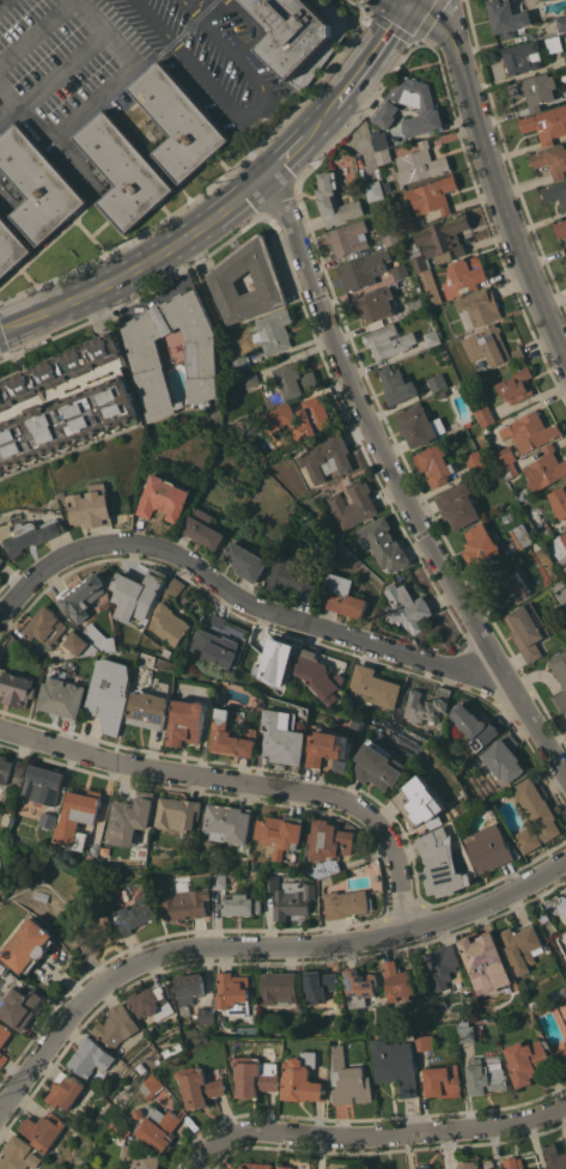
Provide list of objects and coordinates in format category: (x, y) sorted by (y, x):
road: (0, 0)
road: (408, 0)
road: (409, 0)
traffic signals: (409, 1)
road: (189, 6)
road: (200, 6)
road: (244, 16)
building: (506, 17)
road: (156, 20)
building: (561, 22)
road: (36, 31)
road: (215, 34)
building: (299, 34)
road: (406, 36)
road: (248, 43)
building: (565, 54)
building: (522, 56)
road: (377, 60)
road: (352, 61)
road: (256, 74)
building: (535, 89)
road: (218, 90)
road: (96, 96)
building: (388, 105)
road: (7, 111)
road: (354, 115)
building: (178, 121)
building: (547, 123)
building: (379, 138)
road: (276, 146)
road: (303, 150)
building: (383, 156)
building: (552, 159)
building: (419, 163)
road: (492, 170)
building: (123, 171)
road: (263, 176)
building: (37, 184)
building: (373, 189)
building: (555, 191)
building: (431, 195)
building: (334, 200)
building: (406, 220)
building: (560, 226)
building: (390, 235)
building: (348, 237)
building: (443, 237)
building: (11, 248)
road: (134, 252)
building: (565, 257)
building: (363, 269)
building: (398, 270)
building: (468, 272)
building: (424, 273)
road: (142, 275)
building: (224, 275)
road: (138, 297)
building: (415, 303)
building: (373, 304)
building: (480, 305)
building: (273, 330)
building: (432, 336)
building: (388, 340)
building: (495, 347)
road: (2, 348)
building: (239, 364)
building: (148, 366)
building: (57, 370)
building: (249, 377)
building: (437, 380)
building: (290, 383)
building: (396, 384)
building: (516, 384)
building: (442, 394)
building: (485, 414)
building: (279, 415)
building: (312, 418)
building: (66, 420)
building: (419, 424)
road: (370, 430)
building: (530, 431)
building: (325, 457)
building: (475, 459)
building: (159, 461)
building: (506, 461)
building: (434, 463)
building: (544, 468)
building: (164, 497)
building: (559, 500)
building: (353, 503)
building: (458, 504)
building: (92, 506)
building: (202, 528)
building: (544, 530)
building: (34, 534)
building: (522, 536)
building: (564, 537)
building: (382, 543)
building: (481, 544)
building: (2, 559)
building: (245, 560)
building: (561, 565)
building: (292, 578)
building: (509, 584)
building: (558, 584)
building: (174, 585)
building: (136, 593)
road: (236, 595)
building: (341, 595)
building: (83, 596)
building: (406, 607)
building: (169, 622)
building: (47, 626)
building: (220, 627)
building: (527, 629)
building: (101, 637)
building: (214, 643)
building: (83, 644)
building: (310, 646)
building: (275, 660)
building: (319, 677)
building: (559, 677)
building: (375, 684)
building: (16, 688)
building: (110, 693)
building: (62, 695)
building: (426, 705)
building: (148, 708)
road: (532, 718)
building: (188, 720)
building: (476, 725)
building: (398, 729)
building: (232, 736)
building: (284, 736)
building: (327, 747)
building: (503, 757)
building: (378, 766)
building: (12, 771)
building: (43, 783)
road: (247, 783)
building: (420, 803)
building: (177, 814)
building: (534, 814)
building: (78, 816)
building: (130, 817)
building: (49, 818)
building: (227, 822)
building: (280, 833)
building: (329, 839)
building: (488, 847)
building: (440, 863)
building: (218, 881)
building: (0, 890)
building: (39, 895)
building: (290, 895)
building: (106, 902)
building: (183, 902)
building: (346, 902)
building: (239, 903)
building: (562, 903)
building: (133, 915)
building: (543, 917)
building: (26, 945)
road: (257, 945)
building: (521, 946)
building: (485, 962)
building: (442, 964)
building: (400, 981)
building: (318, 984)
building: (358, 986)
building: (278, 987)
building: (188, 990)
building: (232, 992)
building: (152, 1000)
building: (19, 1006)
building: (206, 1013)
building: (116, 1024)
building: (467, 1030)
building: (4, 1034)
building: (425, 1041)
building: (562, 1054)
building: (2, 1058)
building: (90, 1059)
building: (528, 1059)
building: (395, 1064)
building: (256, 1074)
building: (486, 1074)
building: (303, 1078)
building: (349, 1079)
building: (443, 1080)
building: (153, 1085)
building: (200, 1085)
building: (65, 1089)
building: (120, 1100)
building: (159, 1125)
building: (43, 1128)
building: (121, 1128)
road: (375, 1137)
building: (18, 1153)
building: (140, 1157)
building: (555, 1157)
building: (513, 1162)
building: (469, 1164)
building: (254, 1165)
building: (422, 1165)
building: (284, 1167)
building: (379, 1167)
building: (91, 1168)

